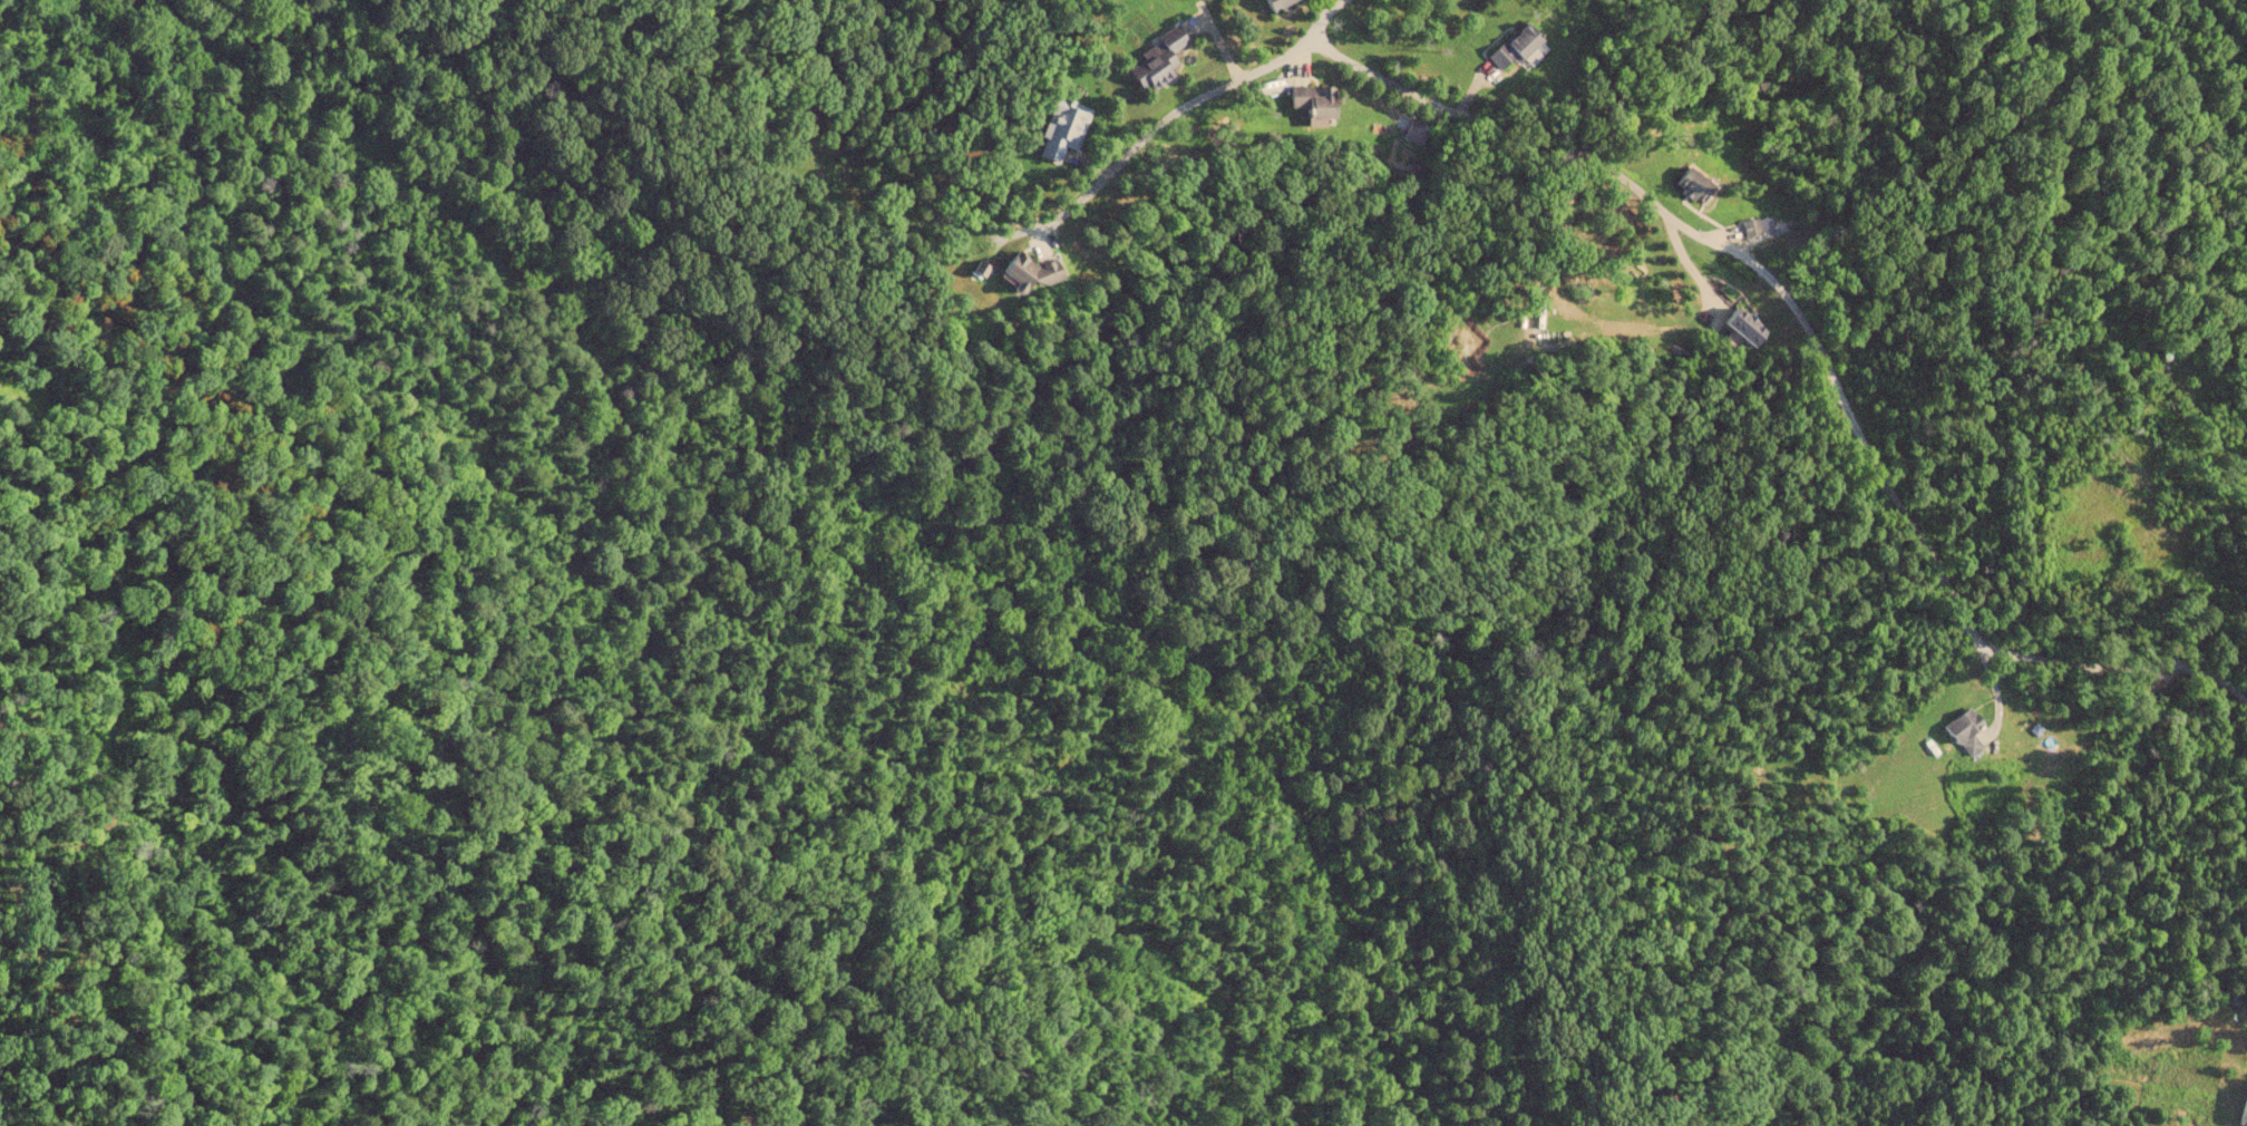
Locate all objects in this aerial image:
building: (1275, 3)
road: (1317, 14)
building: (1514, 46)
building: (1157, 58)
building: (1313, 101)
road: (1169, 117)
building: (1062, 127)
building: (1693, 185)
building: (1029, 272)
building: (1742, 326)
road: (1815, 347)
building: (1963, 730)
building: (2243, 1108)

